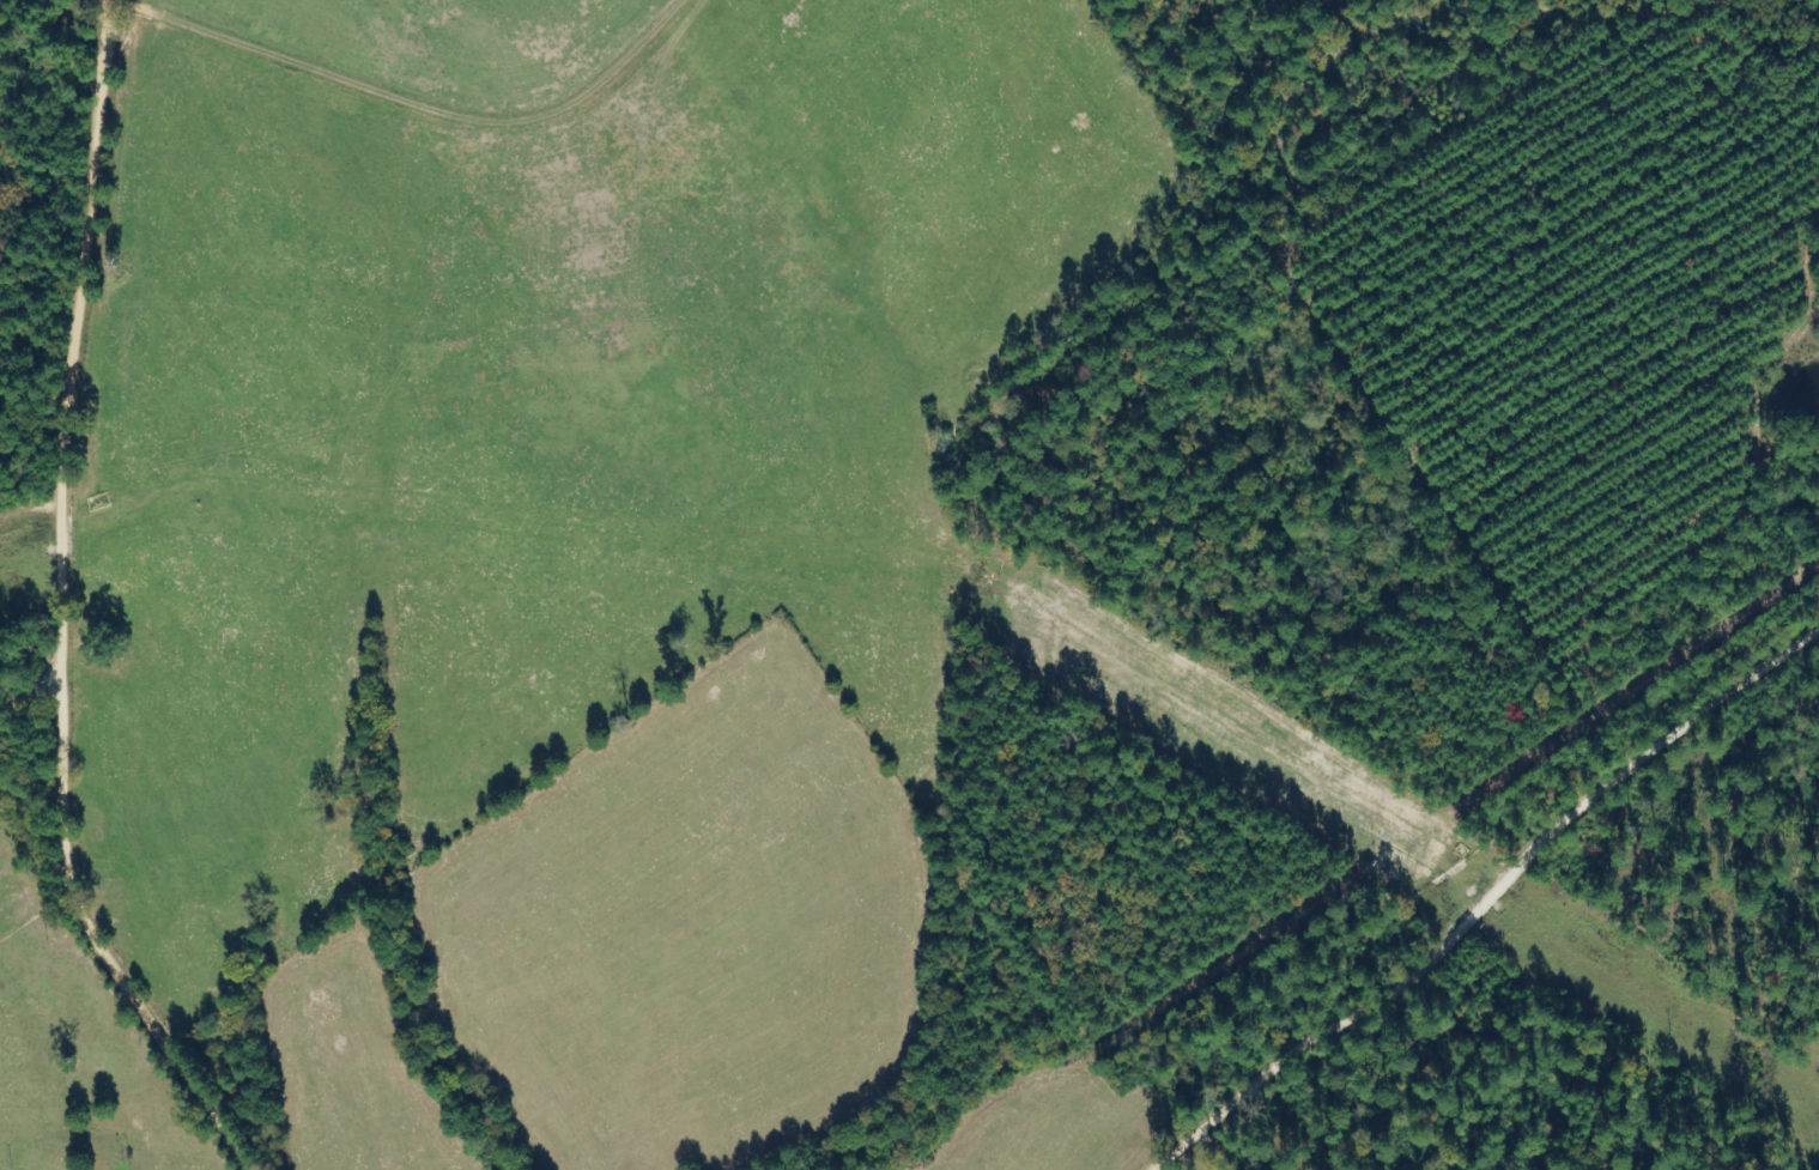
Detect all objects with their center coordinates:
road: (60, 606)
road: (29, 684)
road: (1478, 884)

